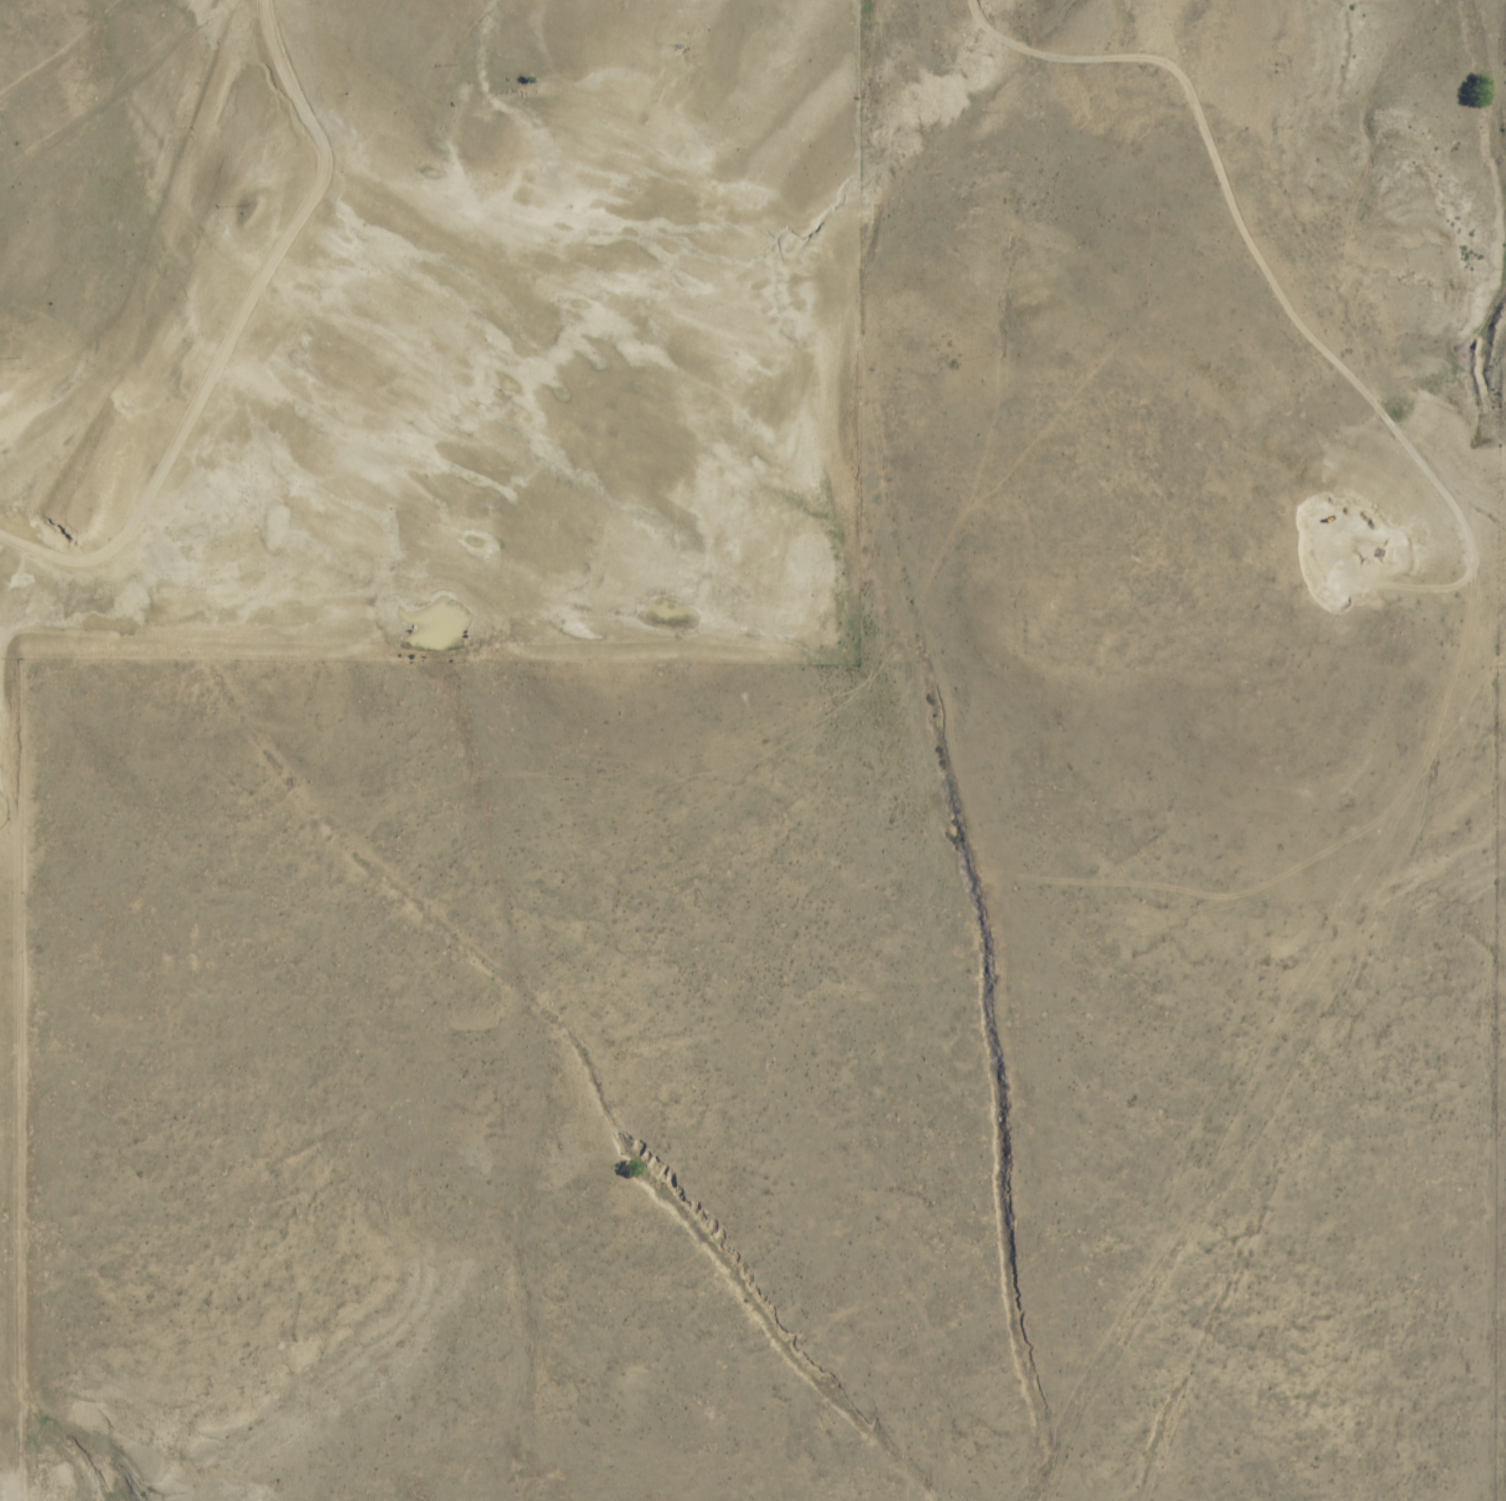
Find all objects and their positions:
road: (258, 802)

